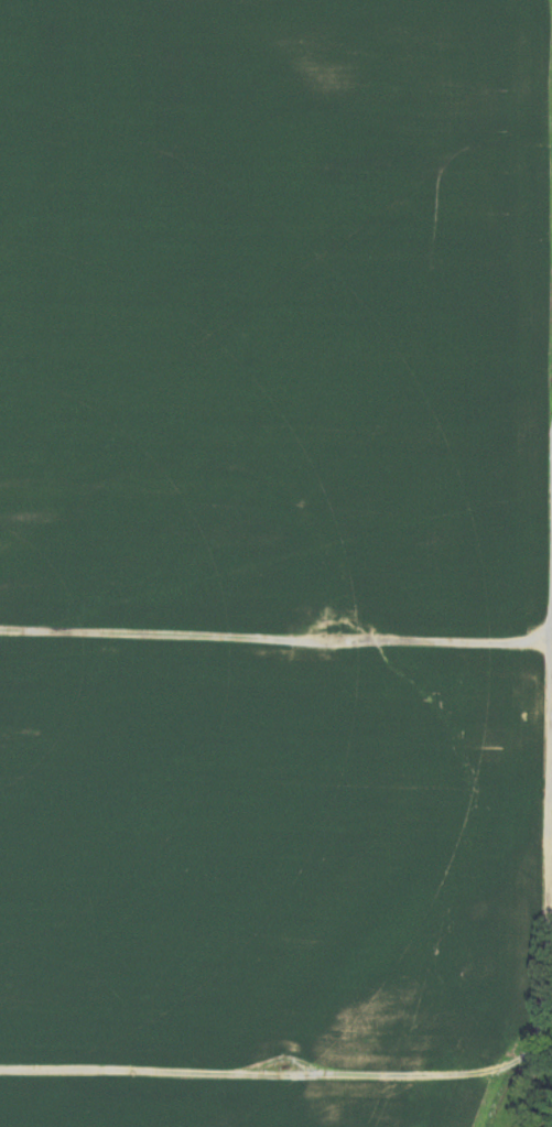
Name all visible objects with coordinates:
petroleum well: (331, 629)
road: (445, 643)
road: (152, 1072)
road: (429, 1073)

